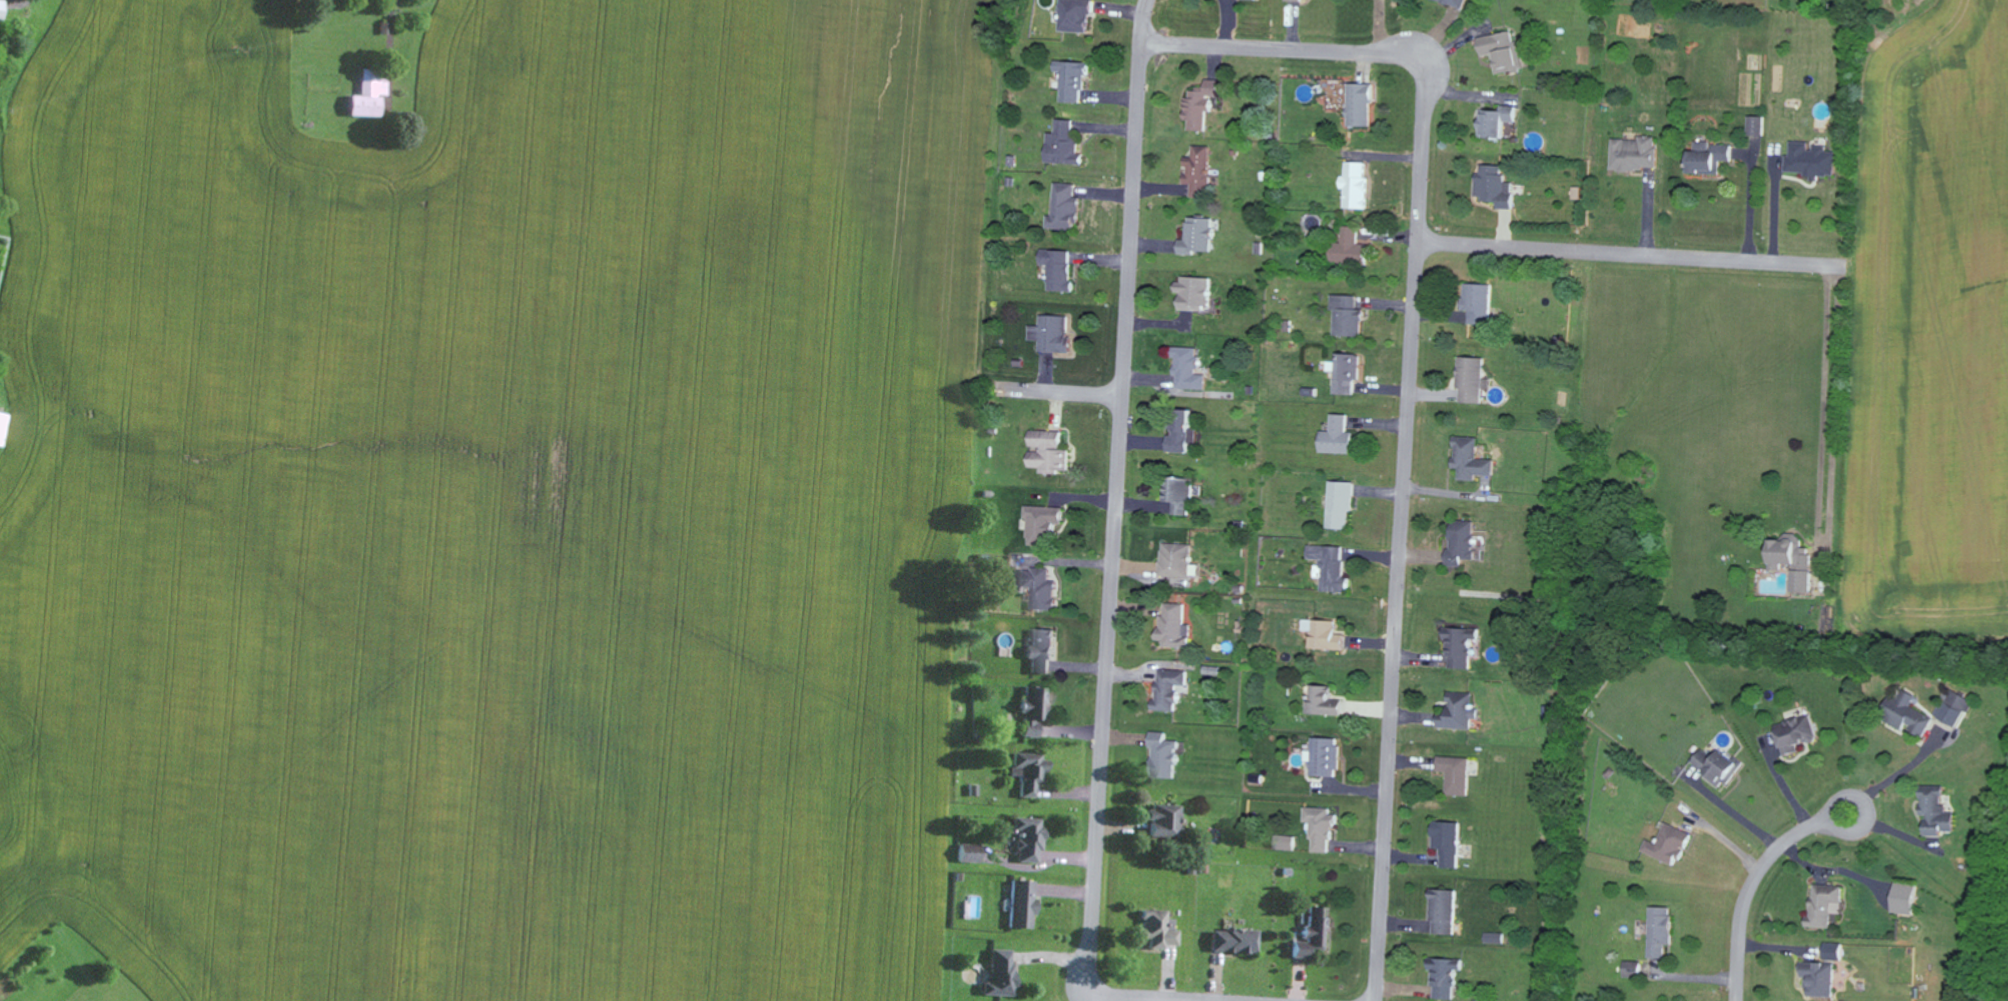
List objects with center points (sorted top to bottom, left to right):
building: (1293, 0)
building: (1073, 15)
building: (1500, 51)
road: (388, 52)
building: (1070, 81)
building: (366, 94)
building: (1199, 104)
building: (1358, 105)
building: (1495, 121)
building: (1756, 126)
building: (1061, 144)
building: (1634, 154)
building: (1708, 158)
building: (1811, 160)
building: (1197, 171)
building: (1354, 185)
building: (1492, 186)
building: (1062, 208)
road: (1749, 211)
road: (1774, 213)
building: (1195, 236)
building: (1348, 248)
road: (1626, 256)
building: (1056, 269)
building: (1191, 293)
building: (1477, 303)
building: (1345, 316)
building: (1050, 334)
building: (1185, 369)
building: (1344, 373)
building: (1470, 379)
road: (1409, 391)
road: (1061, 393)
road: (1827, 413)
building: (1, 422)
building: (1180, 434)
building: (1336, 437)
building: (1046, 452)
building: (1470, 458)
road: (1115, 493)
building: (1177, 493)
building: (1339, 502)
building: (1040, 522)
building: (1461, 542)
building: (1174, 559)
building: (1793, 559)
building: (1037, 586)
building: (1172, 626)
building: (1323, 633)
building: (1460, 646)
building: (1039, 650)
building: (1167, 688)
building: (1322, 700)
building: (1954, 707)
building: (1032, 708)
building: (1458, 711)
building: (1905, 713)
building: (1796, 733)
building: (1162, 755)
building: (1323, 756)
building: (1717, 766)
road: (1902, 769)
building: (1026, 772)
building: (1454, 773)
building: (1935, 810)
building: (1162, 819)
building: (1318, 828)
road: (1861, 835)
building: (1026, 838)
building: (1446, 841)
building: (1282, 842)
building: (1667, 844)
building: (966, 852)
road: (1748, 898)
building: (1904, 898)
building: (1019, 903)
building: (1822, 904)
building: (1441, 910)
building: (1155, 928)
building: (1659, 930)
building: (1311, 932)
building: (1492, 937)
building: (1232, 940)
building: (1832, 951)
building: (1632, 968)
building: (997, 972)
building: (1443, 977)
building: (1818, 978)
road: (1133, 1000)

